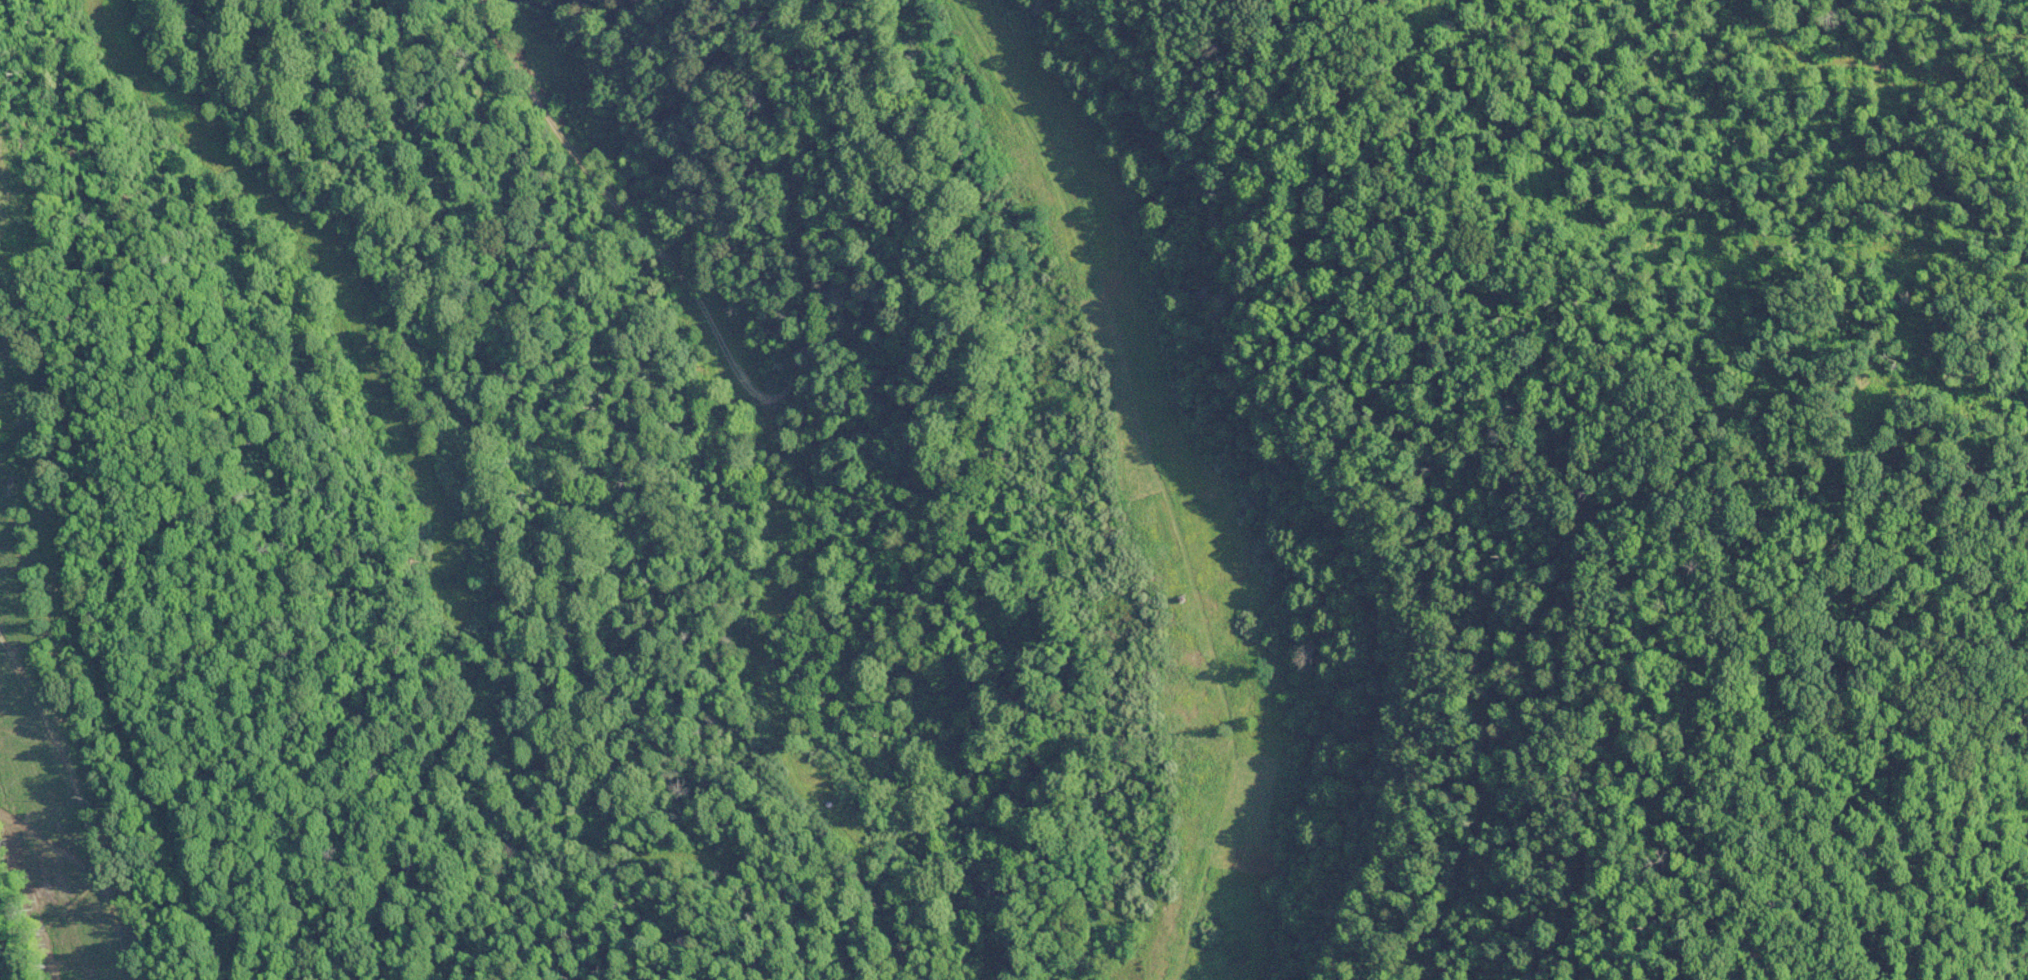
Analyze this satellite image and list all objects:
building: (788, 598)

